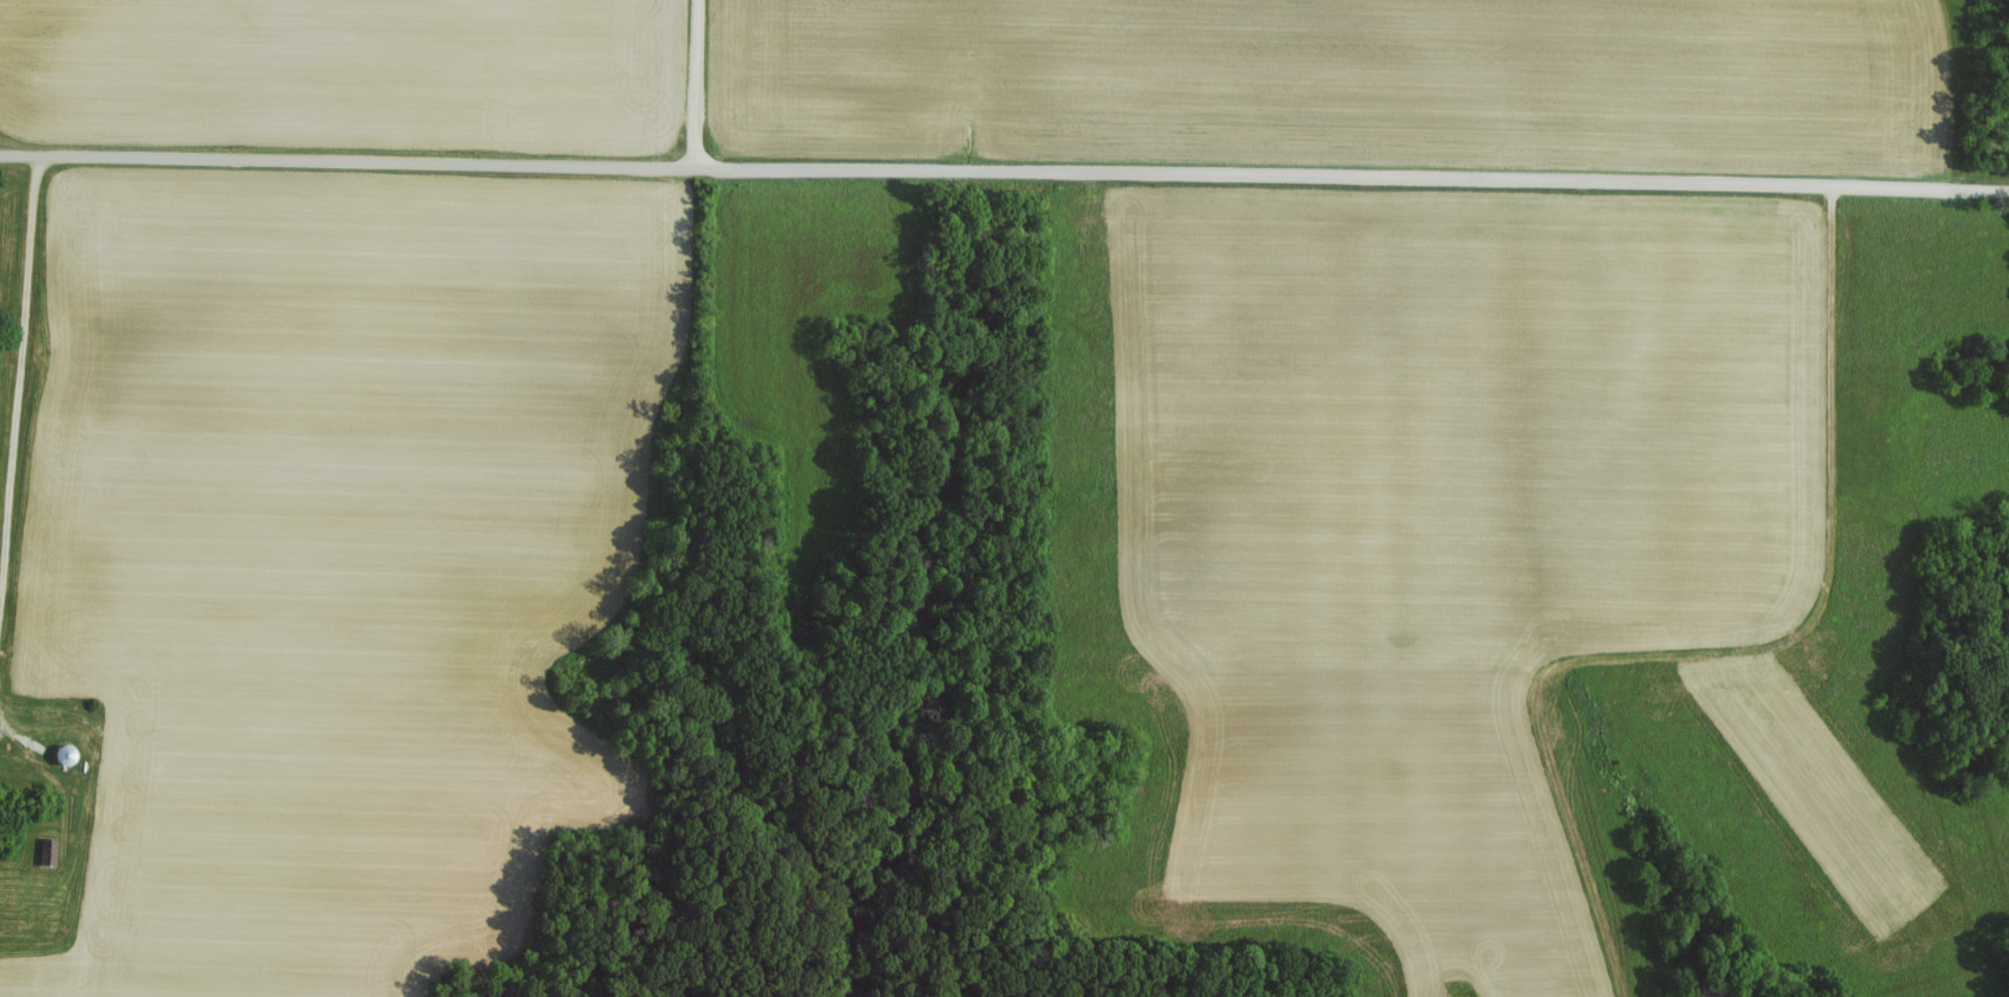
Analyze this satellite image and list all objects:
road: (699, 81)
road: (1004, 167)
road: (22, 374)
road: (53, 756)

